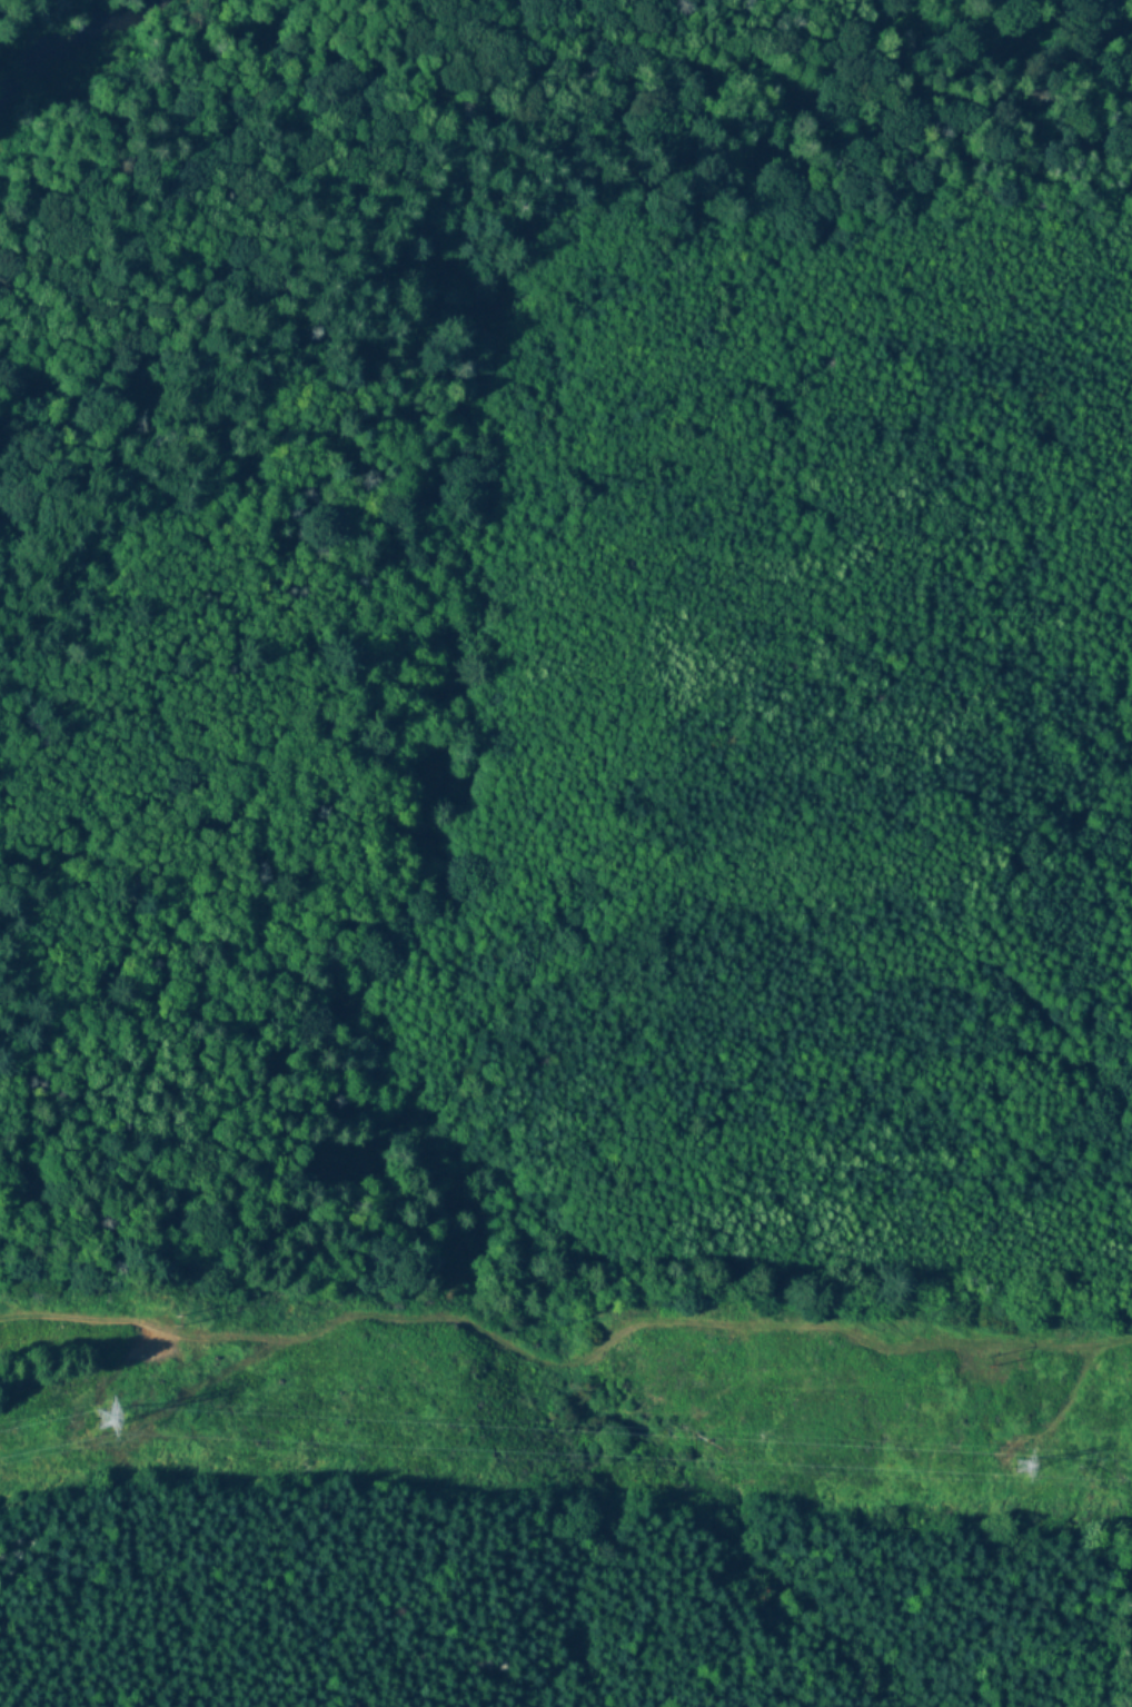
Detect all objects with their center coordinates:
power tower: (185, 1324)
power tower: (992, 1362)
road: (564, 1363)
power tower: (105, 1419)
power tower: (1017, 1469)

